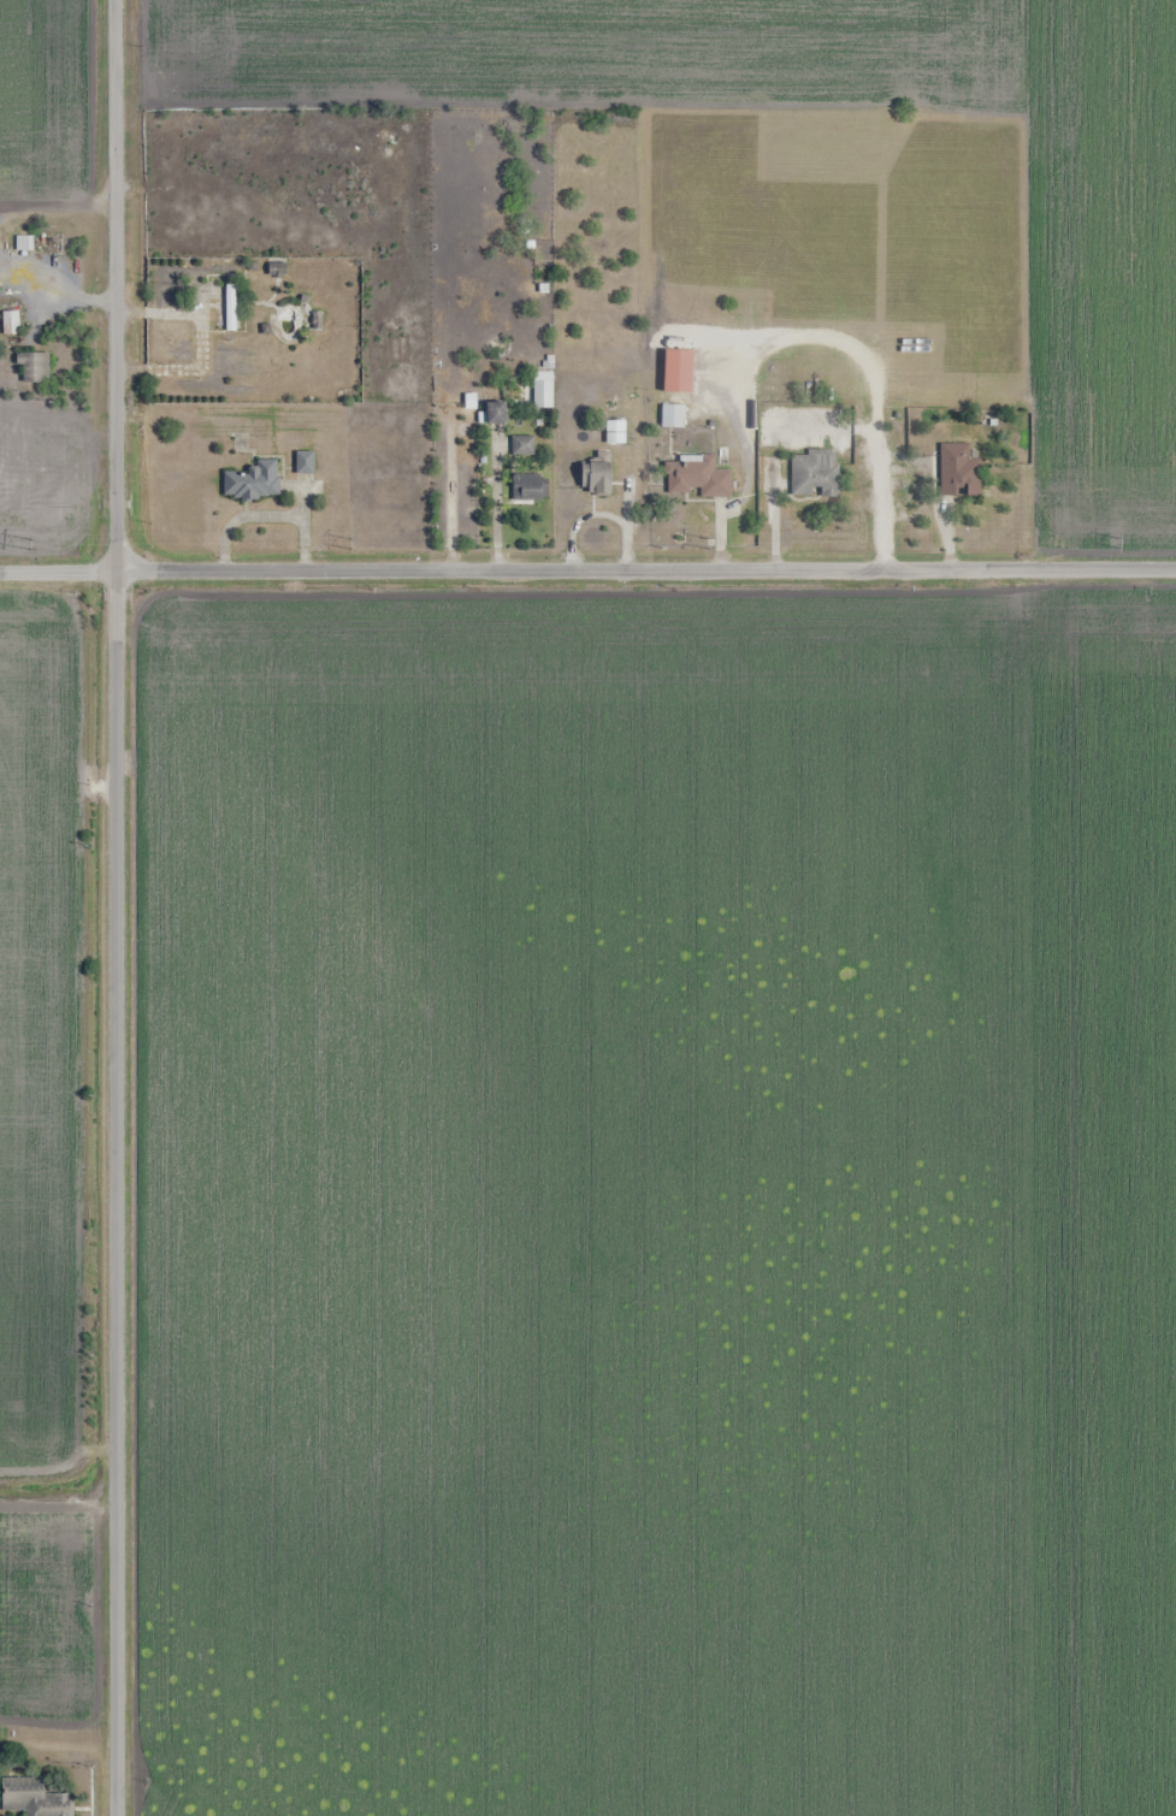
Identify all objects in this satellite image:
building: (45, 243)
building: (276, 266)
building: (8, 321)
building: (31, 366)
building: (542, 395)
building: (494, 412)
building: (672, 416)
building: (615, 432)
building: (521, 445)
building: (303, 462)
building: (958, 471)
building: (814, 473)
building: (695, 477)
building: (595, 478)
building: (252, 481)
building: (528, 487)
power tower: (756, 540)
power tower: (351, 542)
power tower: (31, 544)
power tower: (1118, 544)
road: (587, 570)
road: (116, 907)
building: (37, 1802)

